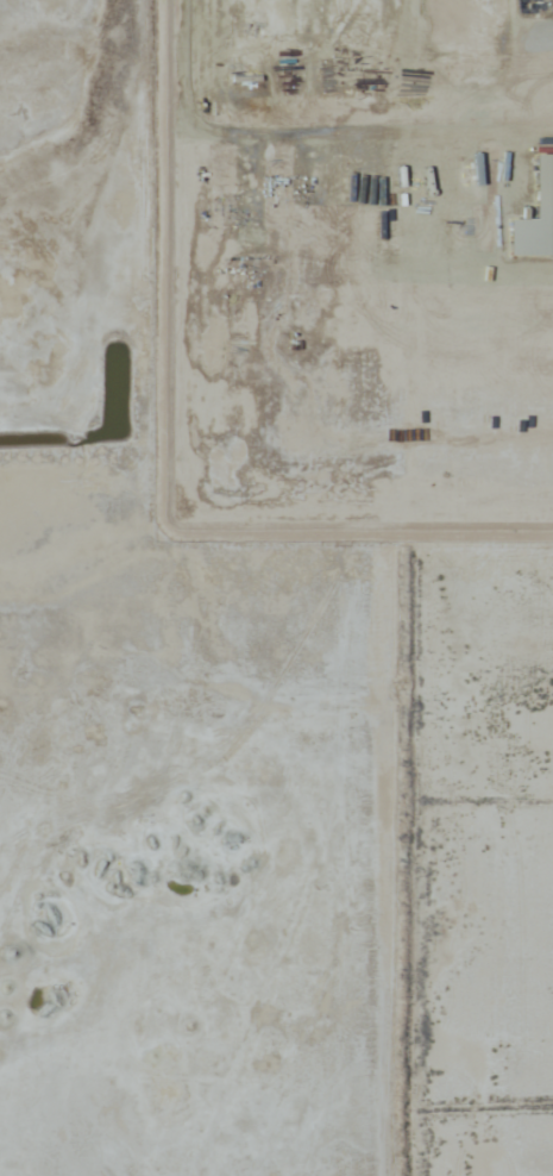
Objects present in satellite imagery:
building: (446, 20)
building: (509, 181)
building: (461, 182)
building: (485, 194)
building: (319, 230)

